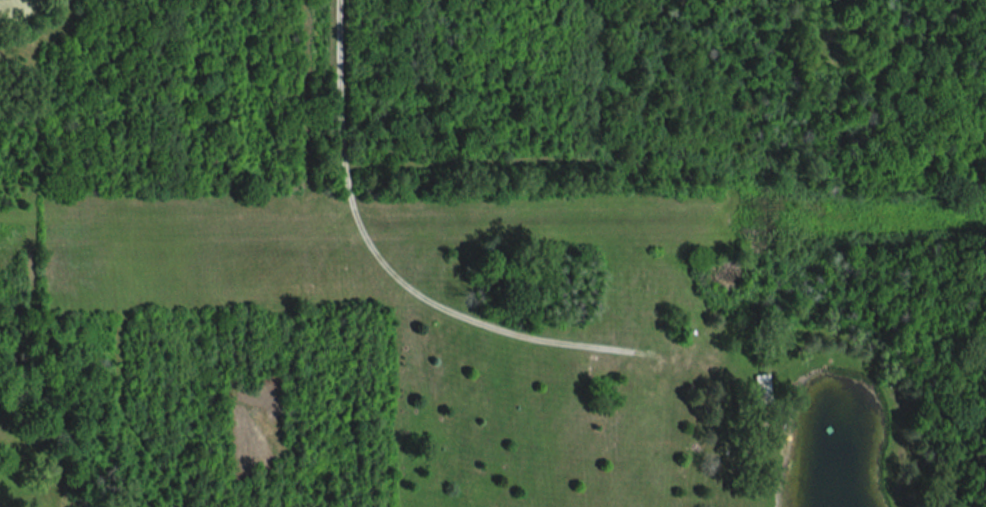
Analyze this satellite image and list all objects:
road: (384, 264)
building: (760, 387)

